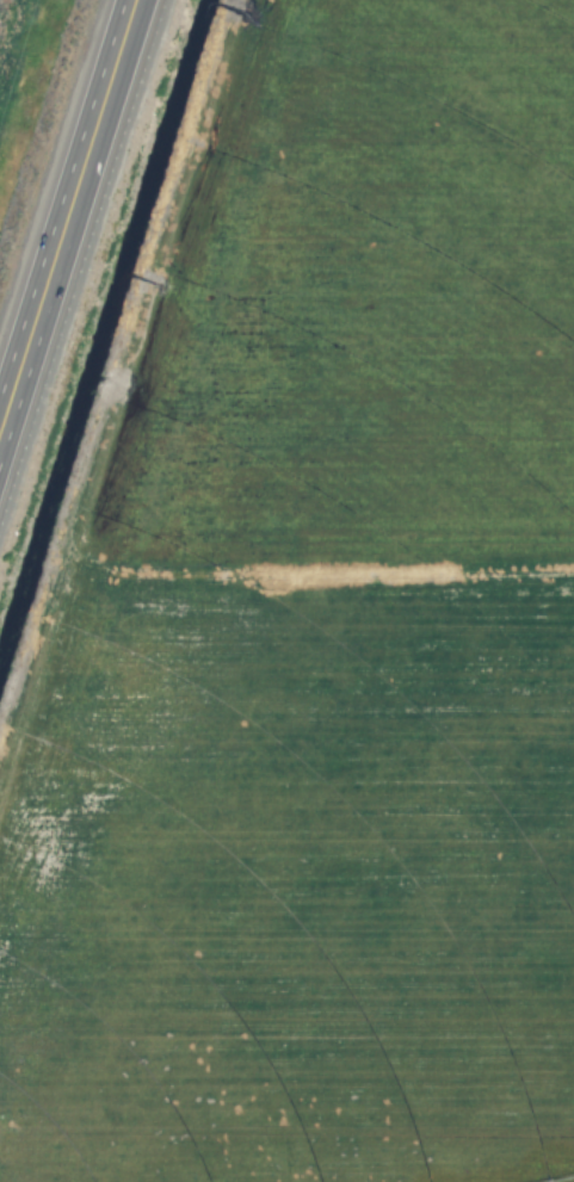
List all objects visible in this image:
road: (119, 37)
road: (54, 245)
crop: (314, 636)

